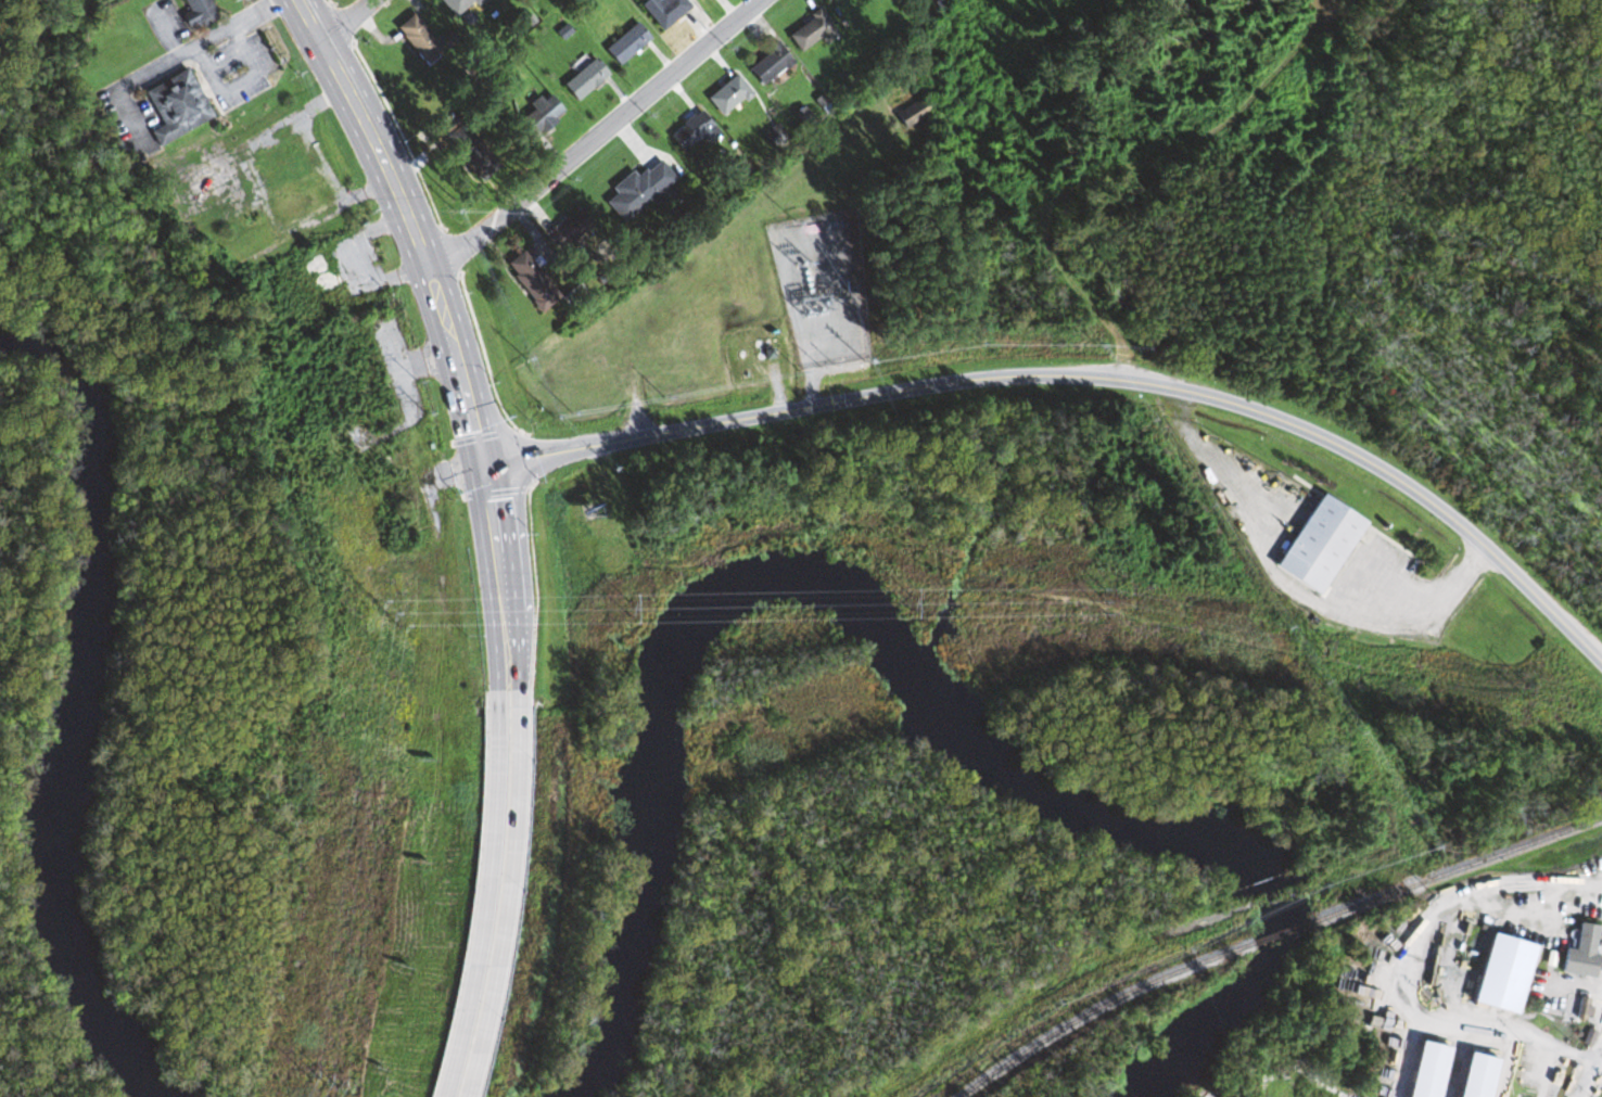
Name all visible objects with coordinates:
building: (455, 4)
building: (662, 10)
building: (196, 13)
road: (347, 21)
building: (810, 30)
building: (417, 39)
building: (625, 43)
road: (181, 51)
building: (767, 63)
building: (583, 79)
building: (726, 94)
building: (176, 106)
building: (911, 113)
building: (536, 116)
building: (691, 130)
building: (772, 135)
road: (597, 137)
building: (466, 149)
building: (284, 157)
building: (637, 190)
building: (298, 203)
building: (570, 226)
building: (244, 243)
building: (317, 273)
road: (434, 279)
building: (530, 280)
power substation: (817, 291)
road: (1081, 375)
traffic signals: (481, 465)
building: (1317, 544)
power tower: (1106, 602)
road: (517, 633)
road: (494, 635)
power tower: (1323, 648)
power tower: (964, 655)
power tower: (1524, 689)
power tower: (594, 795)
power tower: (430, 858)
railway: (1455, 868)
road: (486, 894)
road: (507, 894)
railway: (1281, 933)
building: (1579, 952)
road: (1396, 970)
building: (1501, 973)
railway: (1096, 1010)

